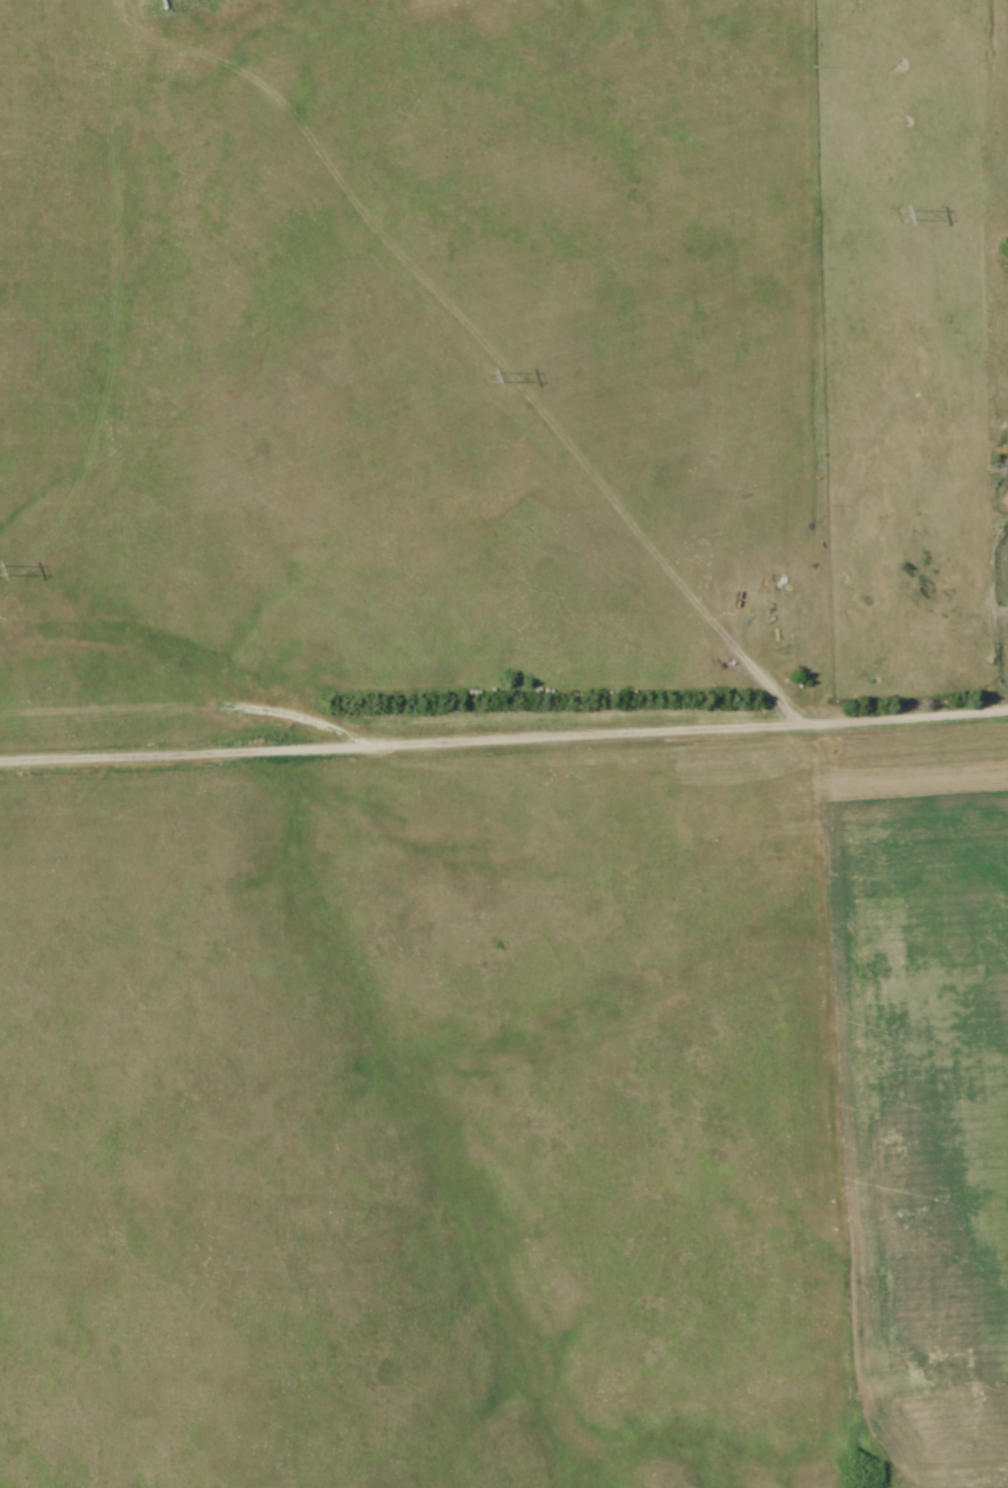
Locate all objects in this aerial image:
power tower: (900, 216)
power tower: (488, 378)
road: (504, 739)

